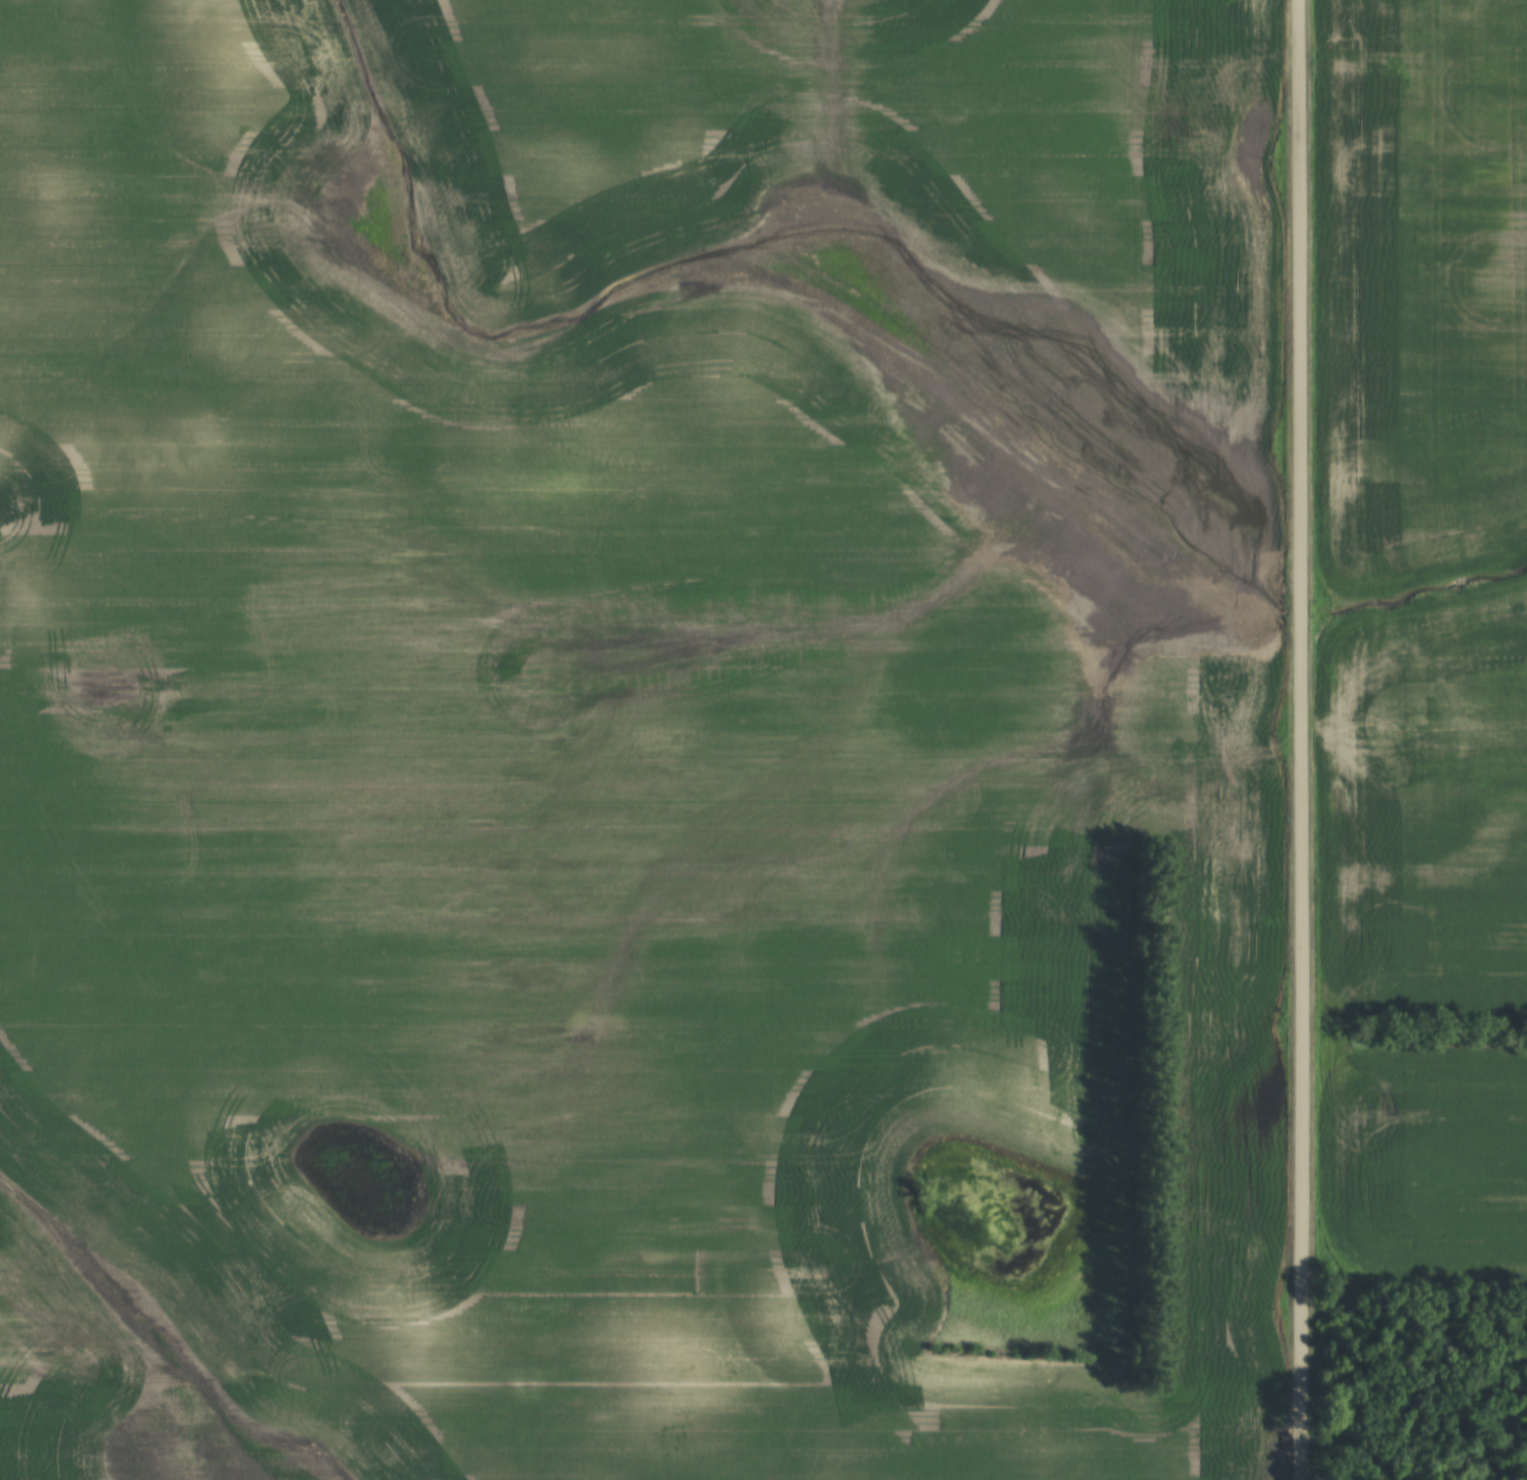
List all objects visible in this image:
road: (1302, 739)

